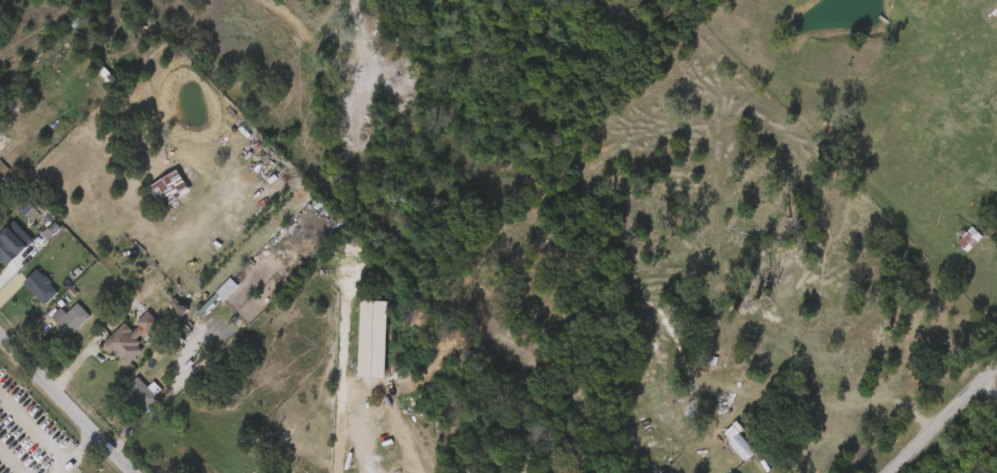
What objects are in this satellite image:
building: (171, 190)
building: (151, 197)
building: (969, 237)
building: (9, 254)
building: (42, 287)
building: (23, 294)
building: (71, 317)
building: (54, 326)
building: (131, 338)
building: (107, 351)
building: (582, 390)
road: (987, 393)
building: (142, 394)
road: (69, 397)
building: (125, 401)
road: (942, 419)
road: (411, 424)
building: (740, 442)
building: (720, 451)
road: (79, 453)
building: (561, 460)
road: (756, 467)
building: (733, 472)

